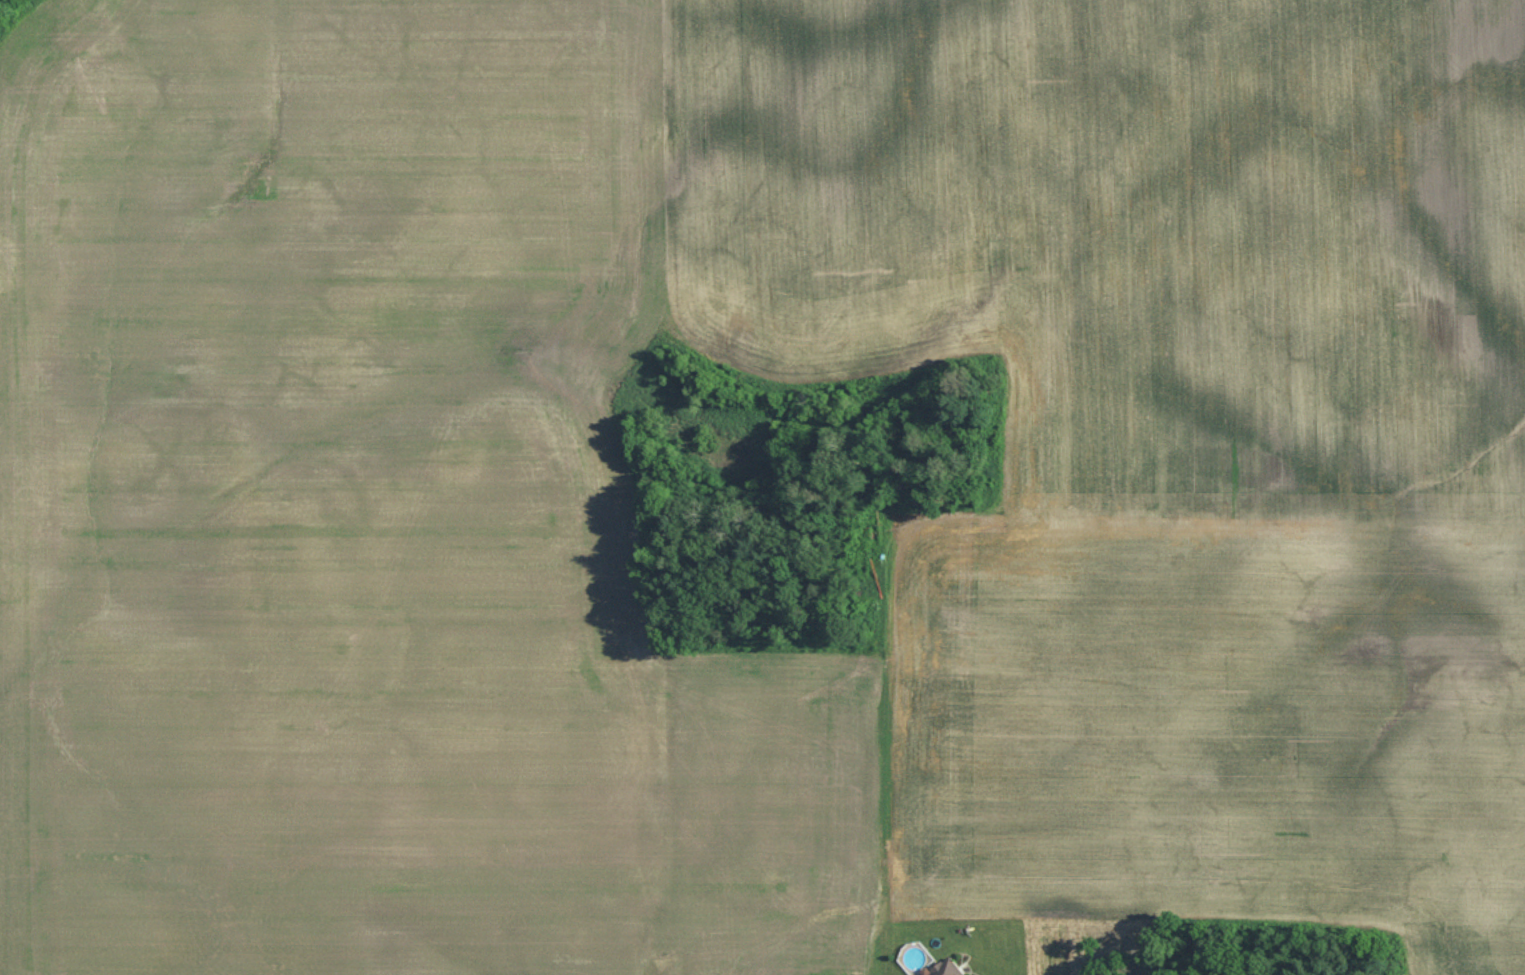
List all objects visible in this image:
building: (939, 969)

